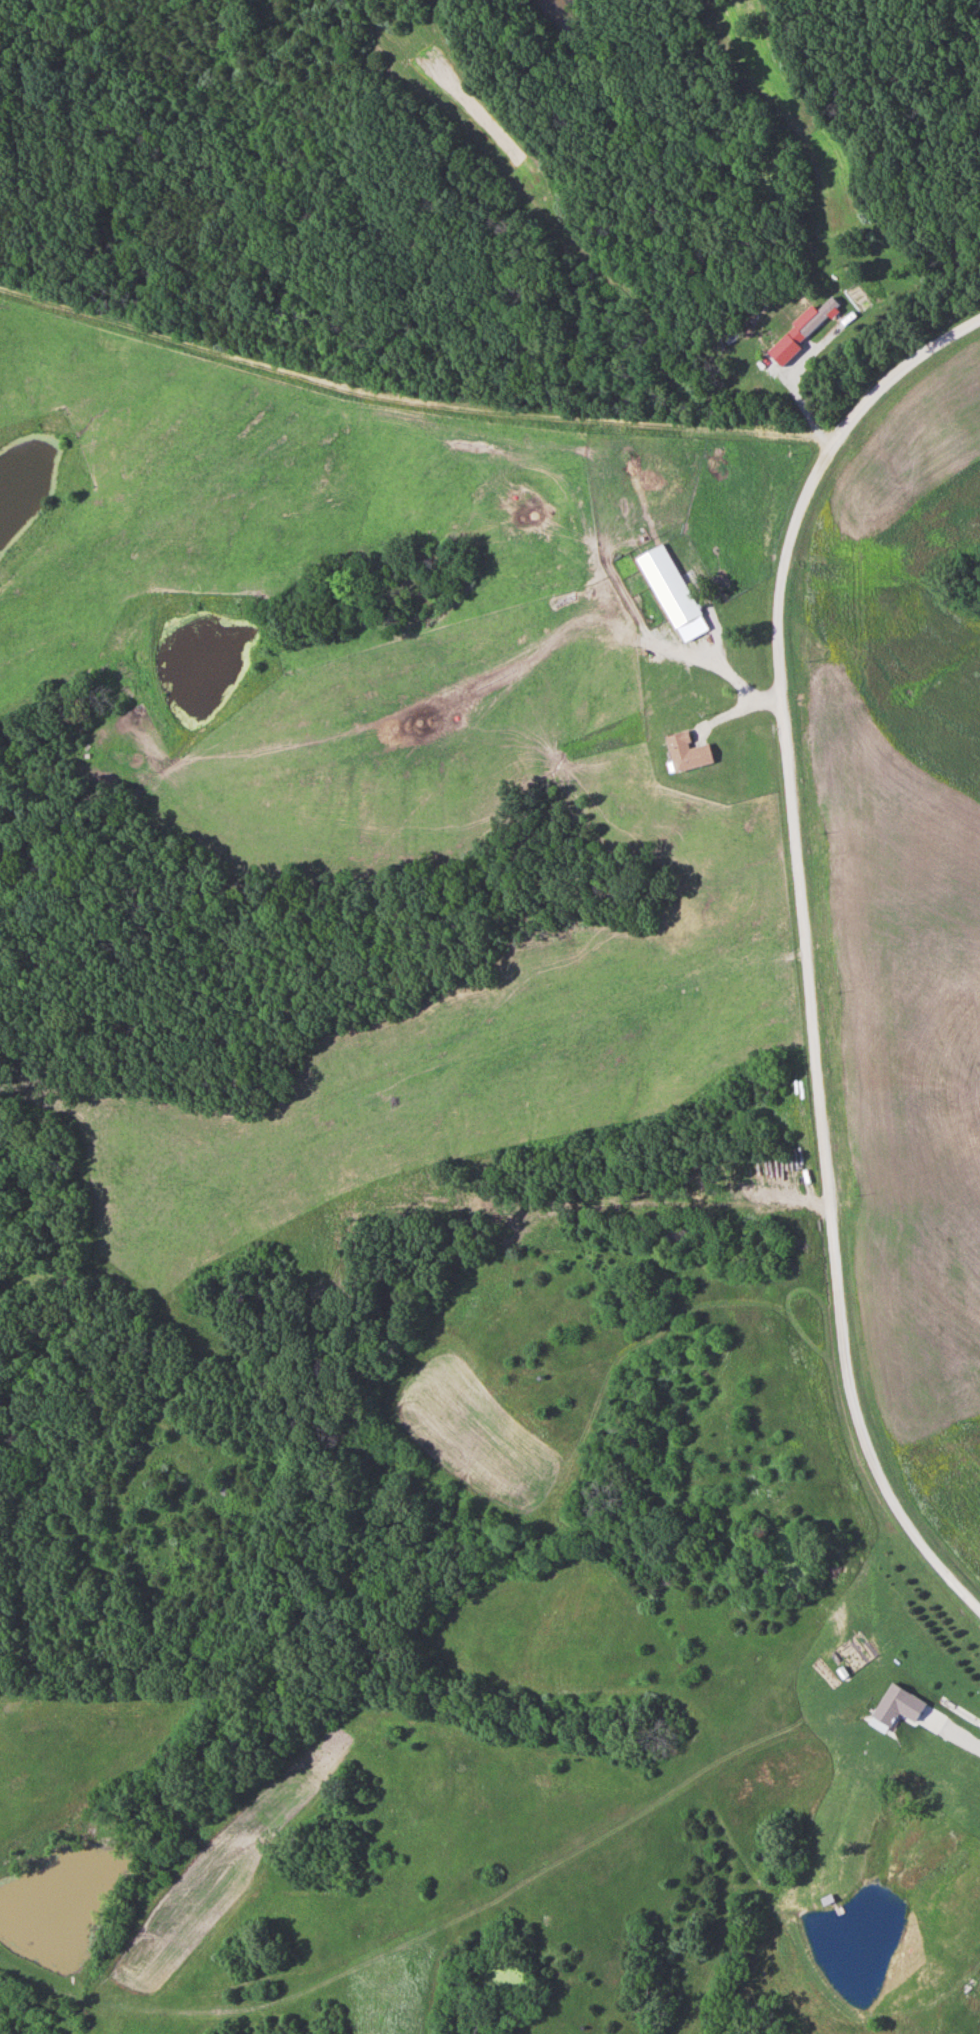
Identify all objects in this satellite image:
building: (781, 348)
building: (671, 586)
building: (689, 753)
road: (807, 943)
building: (960, 1710)

